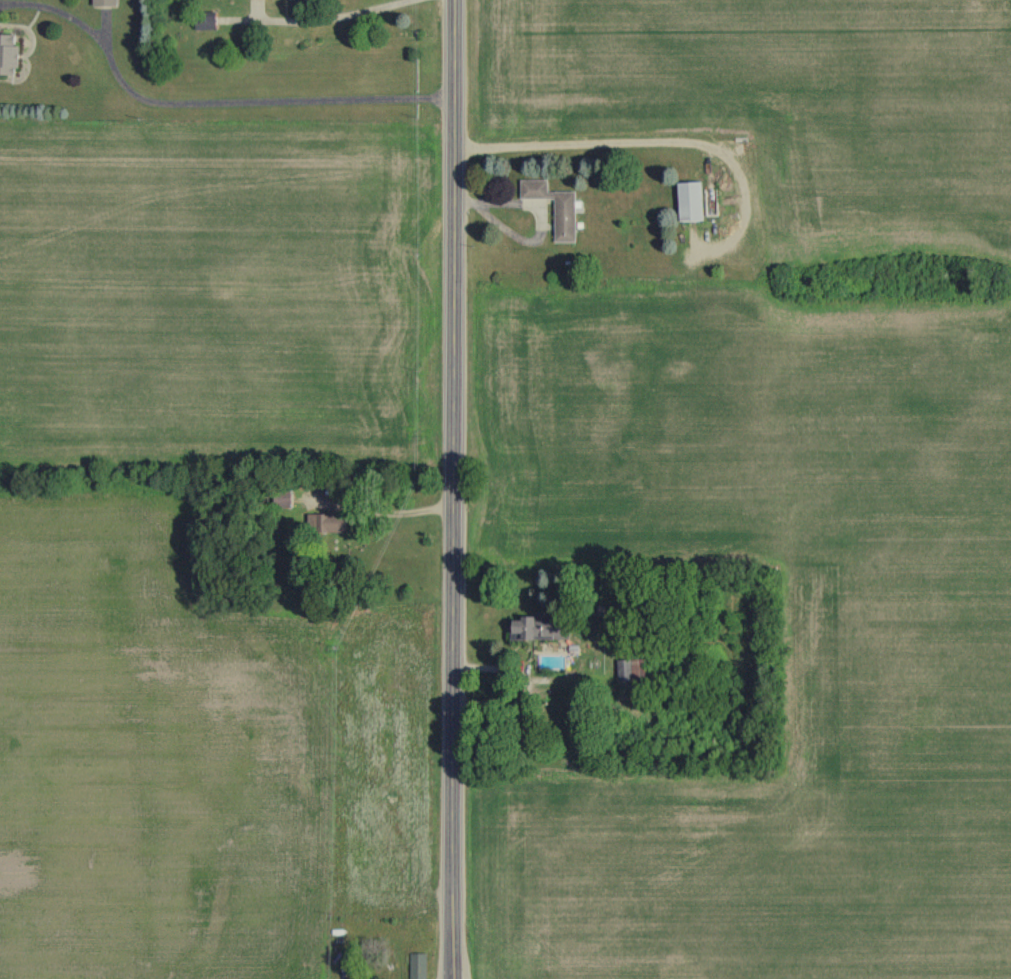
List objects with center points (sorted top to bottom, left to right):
building: (105, 3)
building: (205, 19)
road: (321, 19)
building: (8, 53)
road: (205, 105)
crop: (778, 118)
road: (645, 138)
building: (690, 200)
road: (532, 215)
building: (563, 220)
road: (450, 489)
building: (281, 498)
road: (378, 509)
building: (325, 523)
building: (540, 627)
building: (633, 672)
crop: (897, 681)
building: (418, 965)

